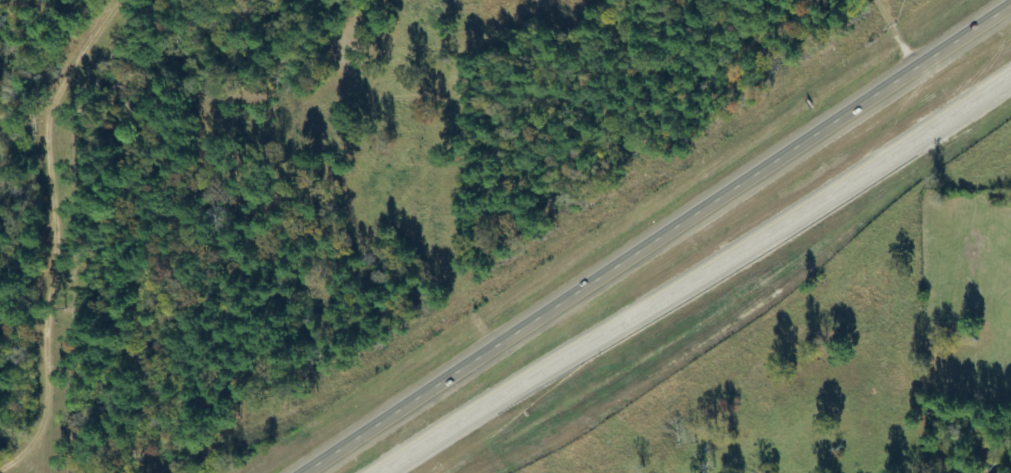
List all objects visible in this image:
road: (43, 235)
road: (656, 239)
road: (699, 273)

